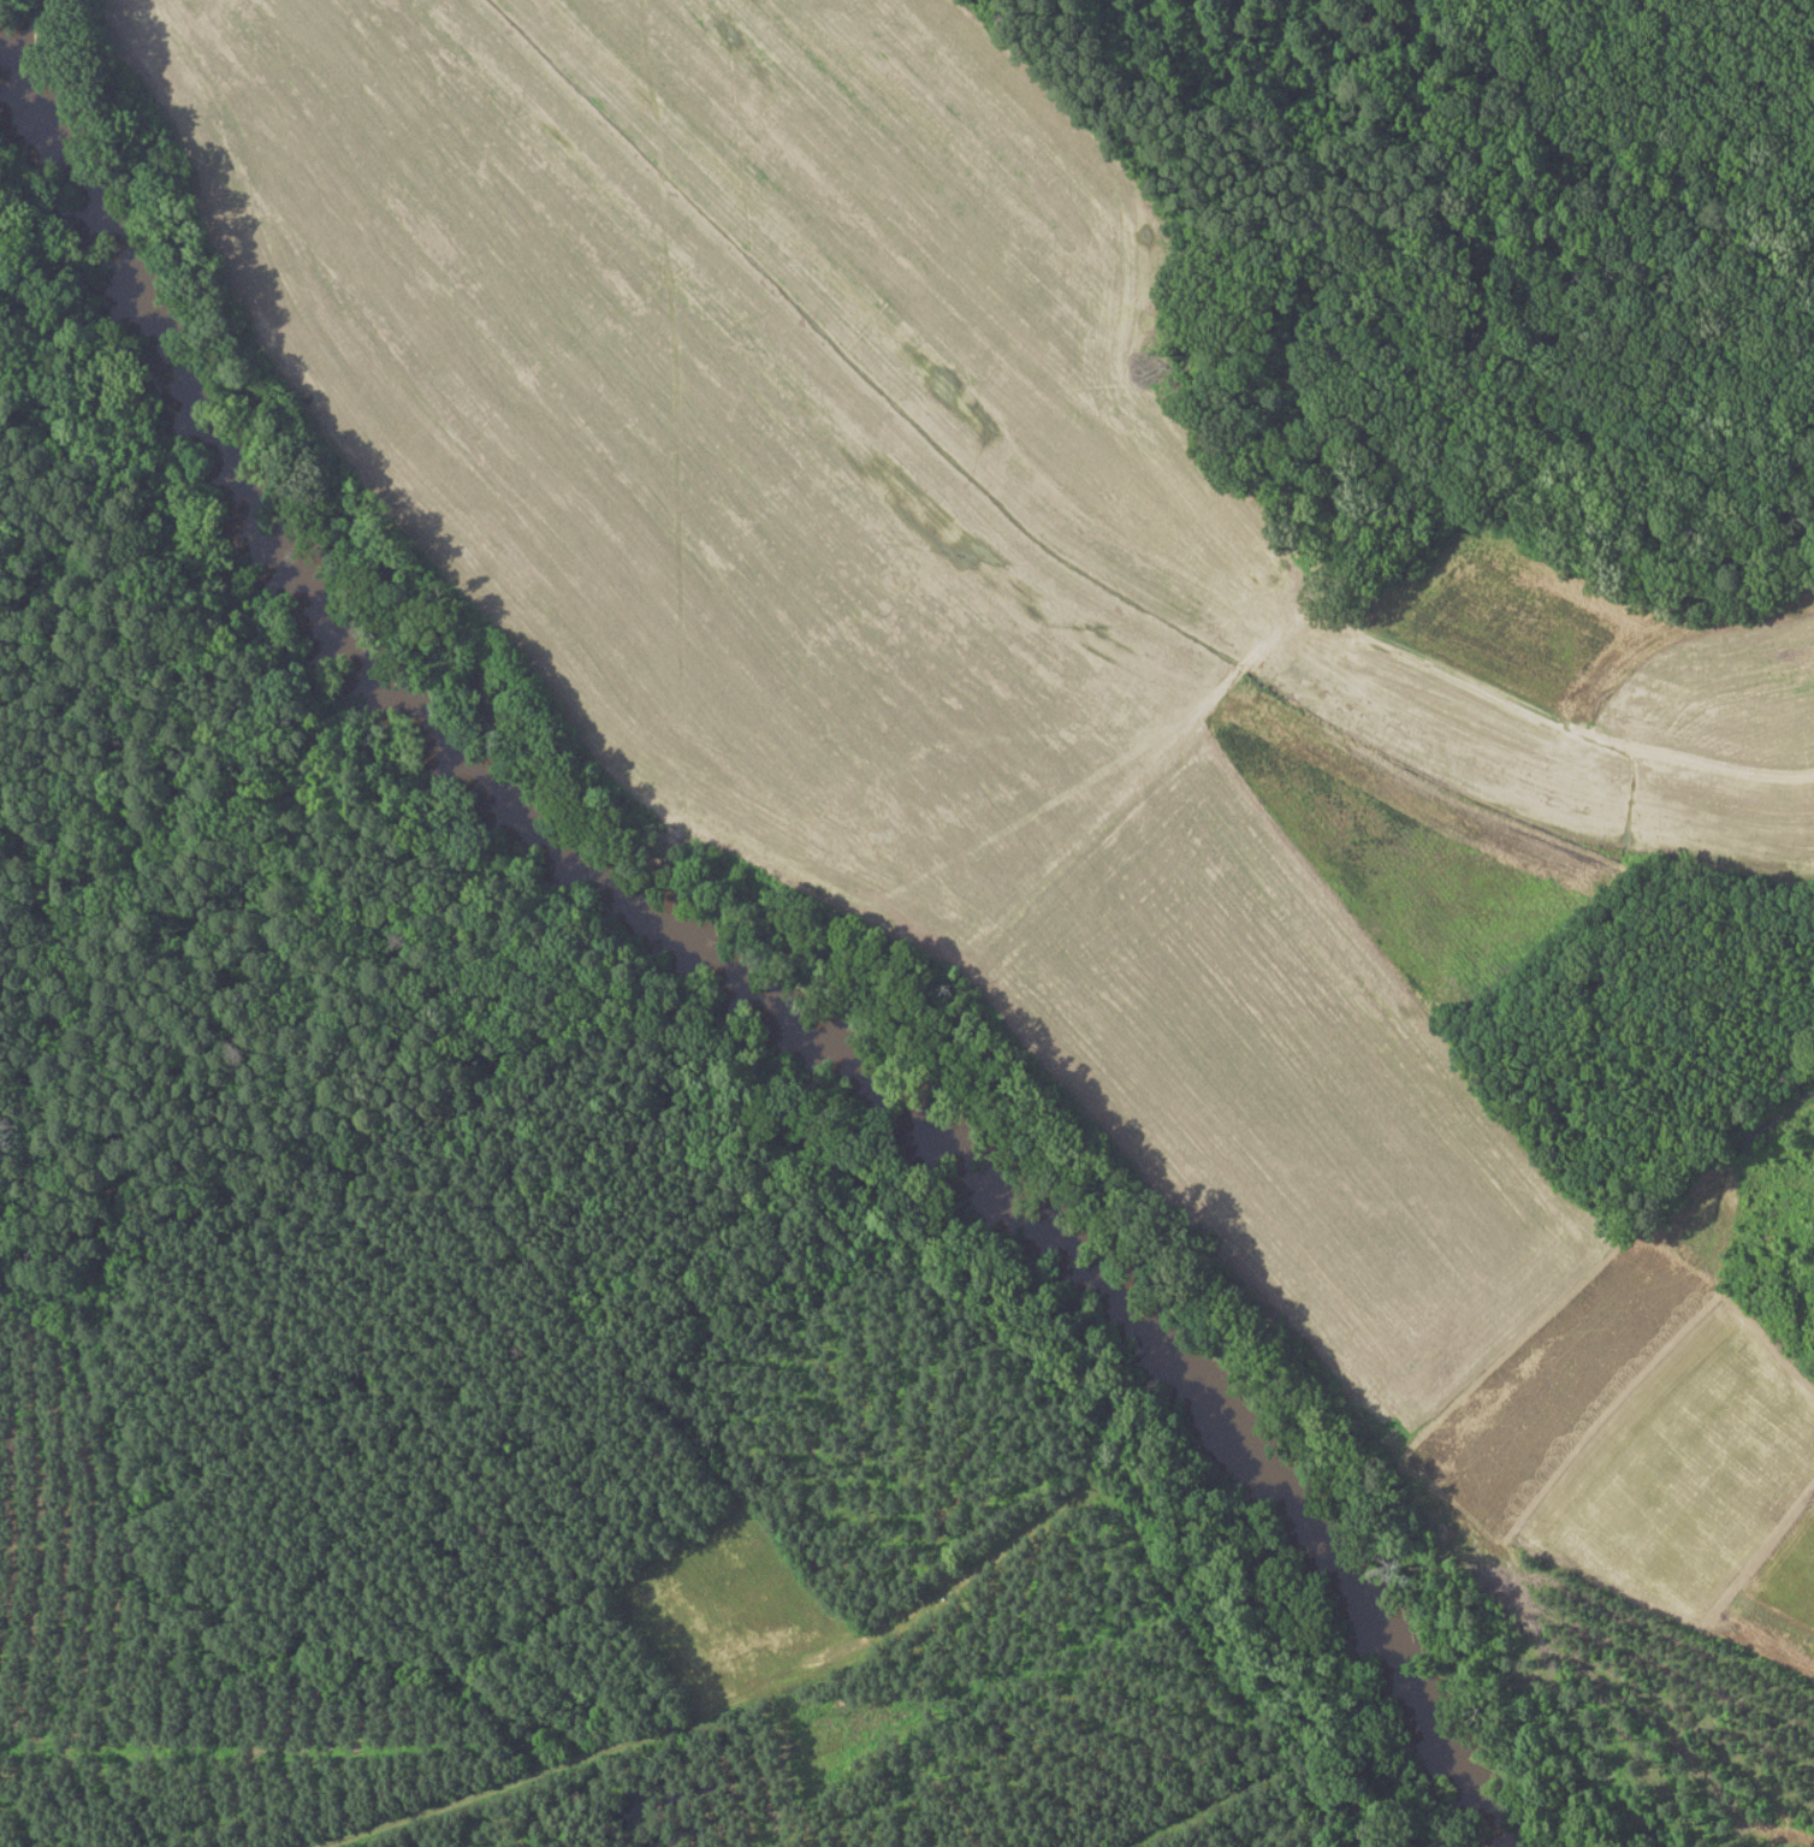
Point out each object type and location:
river: (735, 965)

